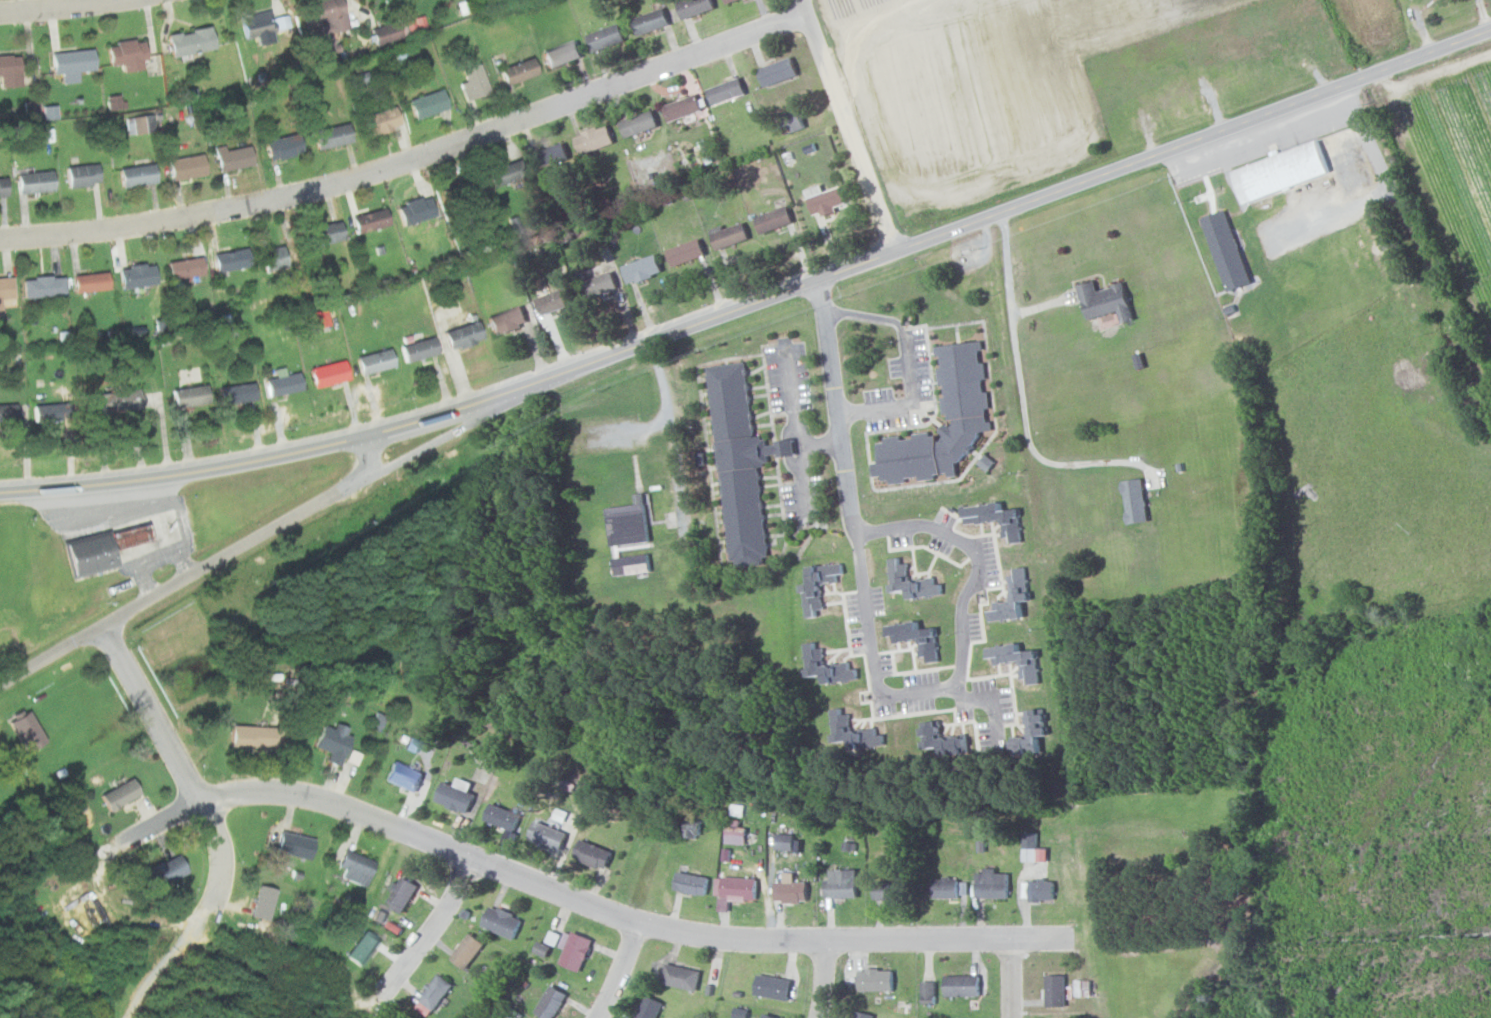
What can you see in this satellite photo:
building: (726, 1)
road: (55, 7)
building: (690, 7)
building: (320, 16)
building: (261, 22)
building: (647, 22)
building: (387, 31)
building: (603, 38)
building: (186, 40)
building: (400, 53)
building: (122, 54)
building: (560, 54)
road: (1418, 60)
building: (68, 63)
building: (8, 71)
building: (515, 71)
building: (775, 73)
building: (471, 80)
building: (357, 81)
building: (723, 92)
building: (114, 101)
building: (425, 103)
building: (679, 107)
building: (31, 108)
building: (50, 111)
building: (377, 121)
building: (789, 122)
building: (141, 124)
building: (636, 124)
road: (848, 126)
building: (329, 136)
building: (590, 140)
building: (280, 147)
building: (705, 150)
building: (549, 156)
road: (412, 157)
building: (230, 158)
building: (184, 166)
building: (1301, 168)
building: (80, 175)
building: (134, 175)
building: (498, 175)
road: (1098, 179)
building: (31, 181)
building: (1, 187)
building: (458, 189)
building: (821, 200)
building: (413, 209)
building: (770, 219)
building: (366, 220)
building: (322, 233)
building: (725, 236)
building: (1224, 250)
road: (1418, 251)
building: (682, 252)
building: (271, 258)
building: (227, 259)
building: (181, 267)
building: (638, 269)
building: (133, 275)
building: (85, 281)
building: (598, 284)
building: (40, 286)
building: (4, 288)
building: (550, 301)
building: (1103, 301)
building: (316, 318)
building: (505, 320)
road: (1010, 320)
road: (680, 328)
building: (466, 334)
building: (423, 349)
building: (373, 361)
road: (909, 363)
building: (326, 373)
building: (280, 383)
building: (962, 388)
building: (233, 393)
building: (188, 396)
building: (110, 401)
building: (42, 412)
building: (7, 413)
road: (670, 424)
road: (796, 428)
road: (819, 445)
road: (372, 458)
road: (259, 459)
road: (1080, 462)
building: (737, 464)
road: (845, 486)
building: (1134, 500)
building: (995, 519)
building: (624, 524)
building: (128, 535)
road: (257, 542)
building: (84, 554)
building: (628, 564)
building: (911, 582)
building: (816, 585)
road: (965, 592)
building: (1012, 598)
building: (915, 638)
building: (1015, 660)
building: (825, 665)
building: (1034, 723)
building: (840, 725)
building: (31, 731)
building: (249, 736)
building: (936, 739)
building: (332, 742)
building: (402, 777)
building: (118, 794)
building: (454, 795)
building: (500, 818)
road: (216, 823)
building: (693, 829)
building: (735, 832)
building: (546, 836)
building: (784, 842)
building: (292, 844)
building: (1031, 847)
building: (591, 855)
building: (349, 866)
building: (162, 871)
building: (842, 883)
building: (692, 884)
building: (993, 884)
building: (738, 889)
building: (947, 889)
building: (889, 891)
building: (1042, 891)
building: (793, 892)
building: (401, 895)
building: (261, 903)
road: (588, 904)
building: (502, 923)
road: (426, 937)
building: (361, 949)
building: (467, 951)
building: (545, 951)
building: (575, 952)
road: (620, 971)
building: (683, 978)
road: (1012, 978)
road: (824, 980)
building: (877, 981)
building: (962, 986)
building: (772, 987)
building: (1056, 991)
building: (929, 992)
building: (435, 993)
building: (551, 1003)
building: (650, 1008)
building: (740, 1013)
building: (863, 1015)
building: (767, 1016)

